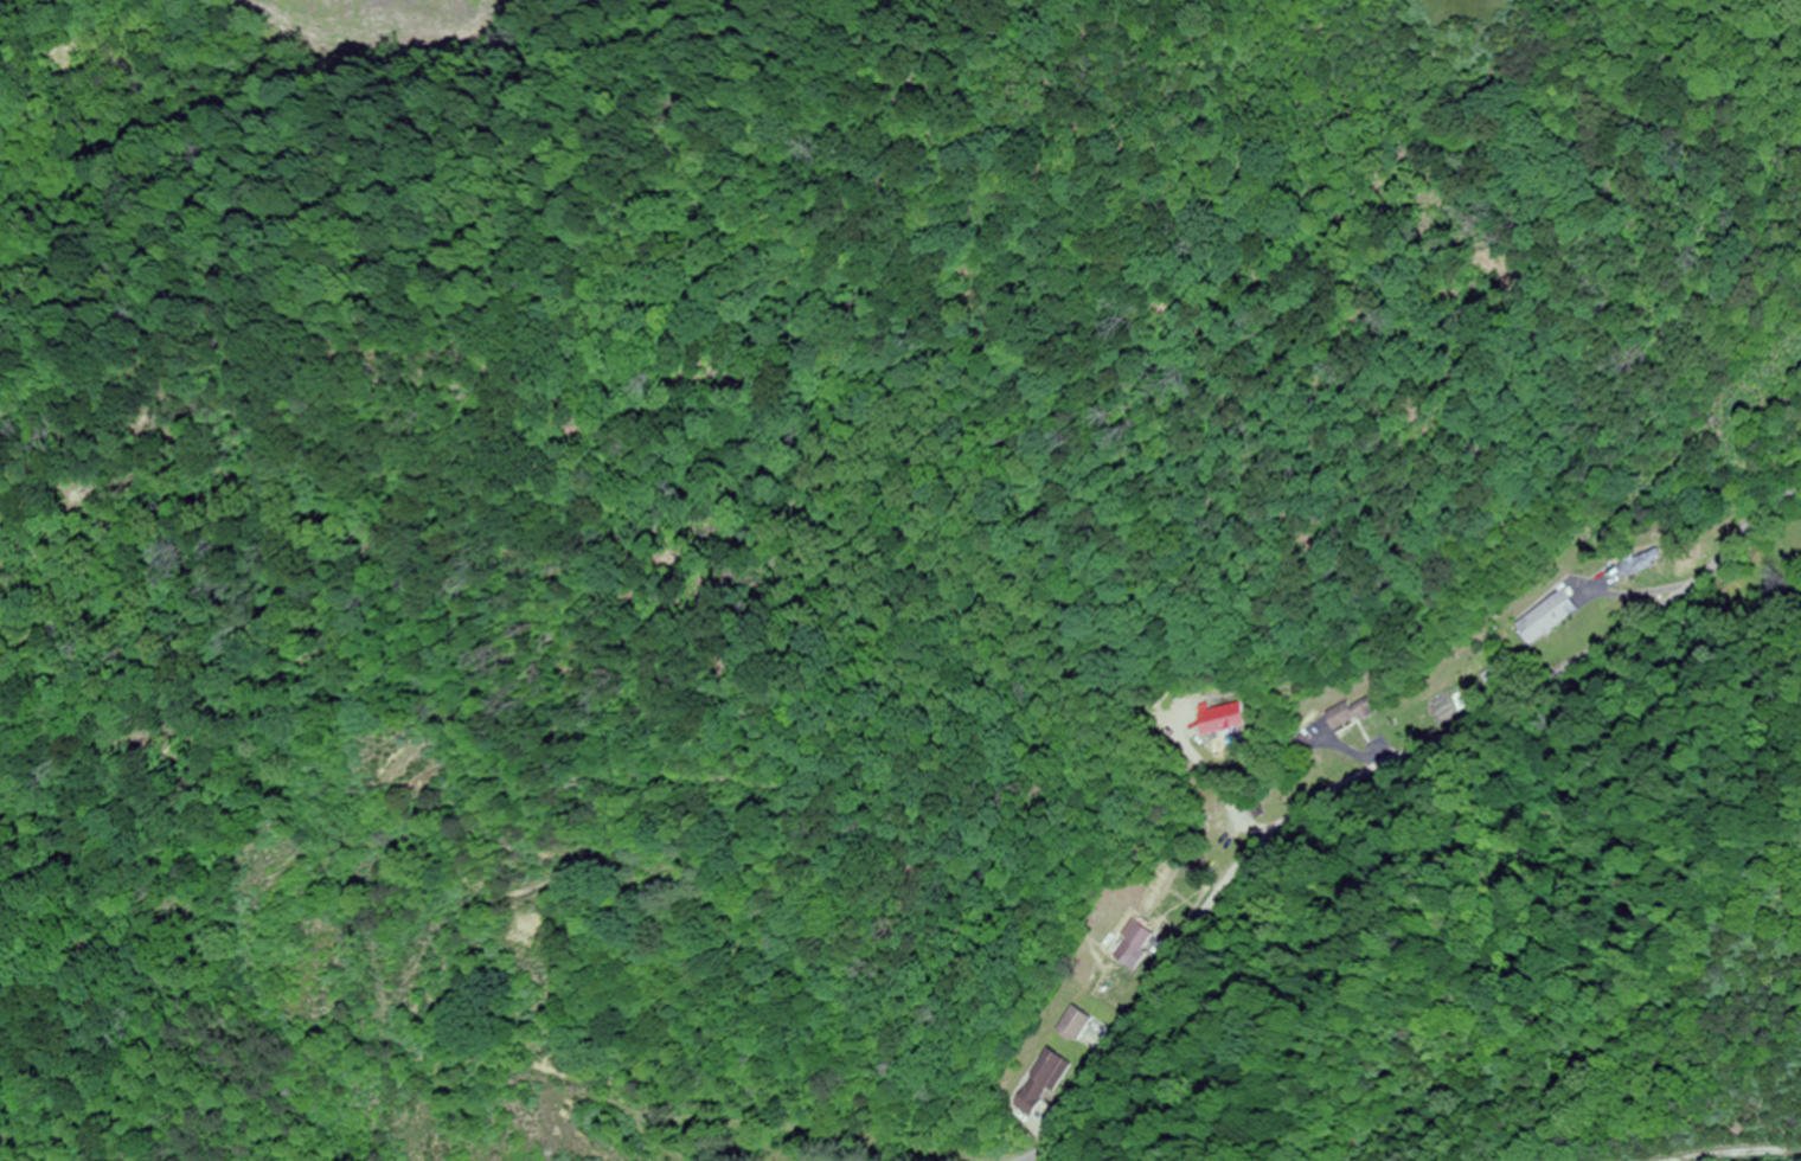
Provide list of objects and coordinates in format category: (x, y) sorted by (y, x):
building: (1642, 564)
building: (1546, 616)
building: (1495, 681)
road: (1379, 776)
building: (1136, 945)
building: (1076, 1025)
building: (1043, 1082)

